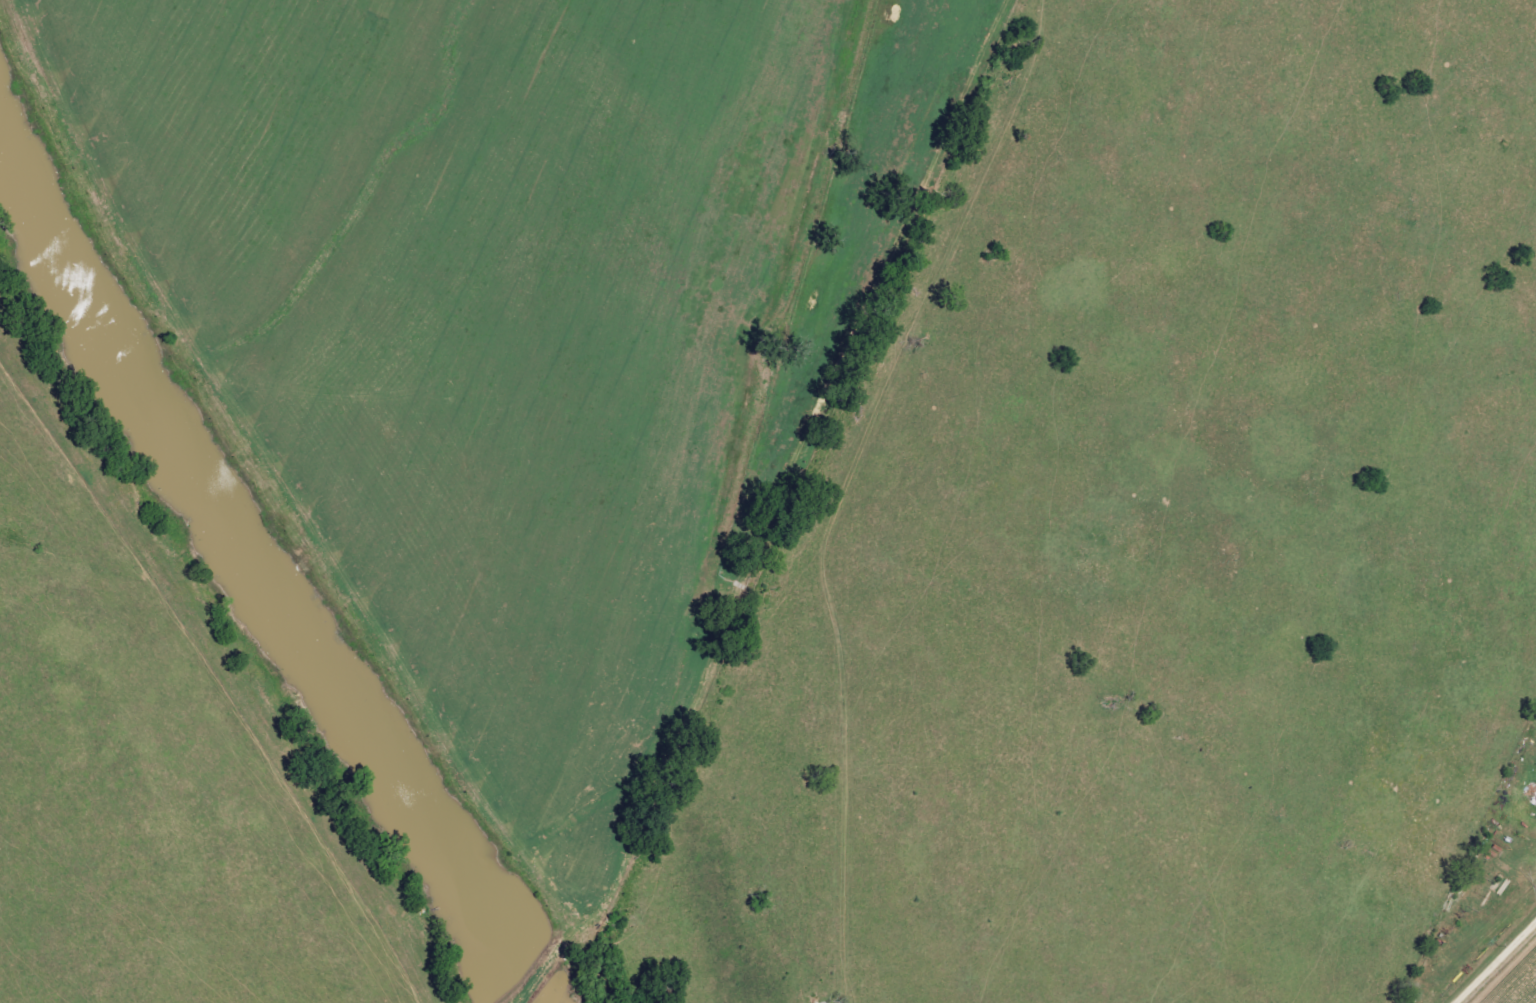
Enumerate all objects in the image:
road: (778, 511)
road: (1493, 960)

